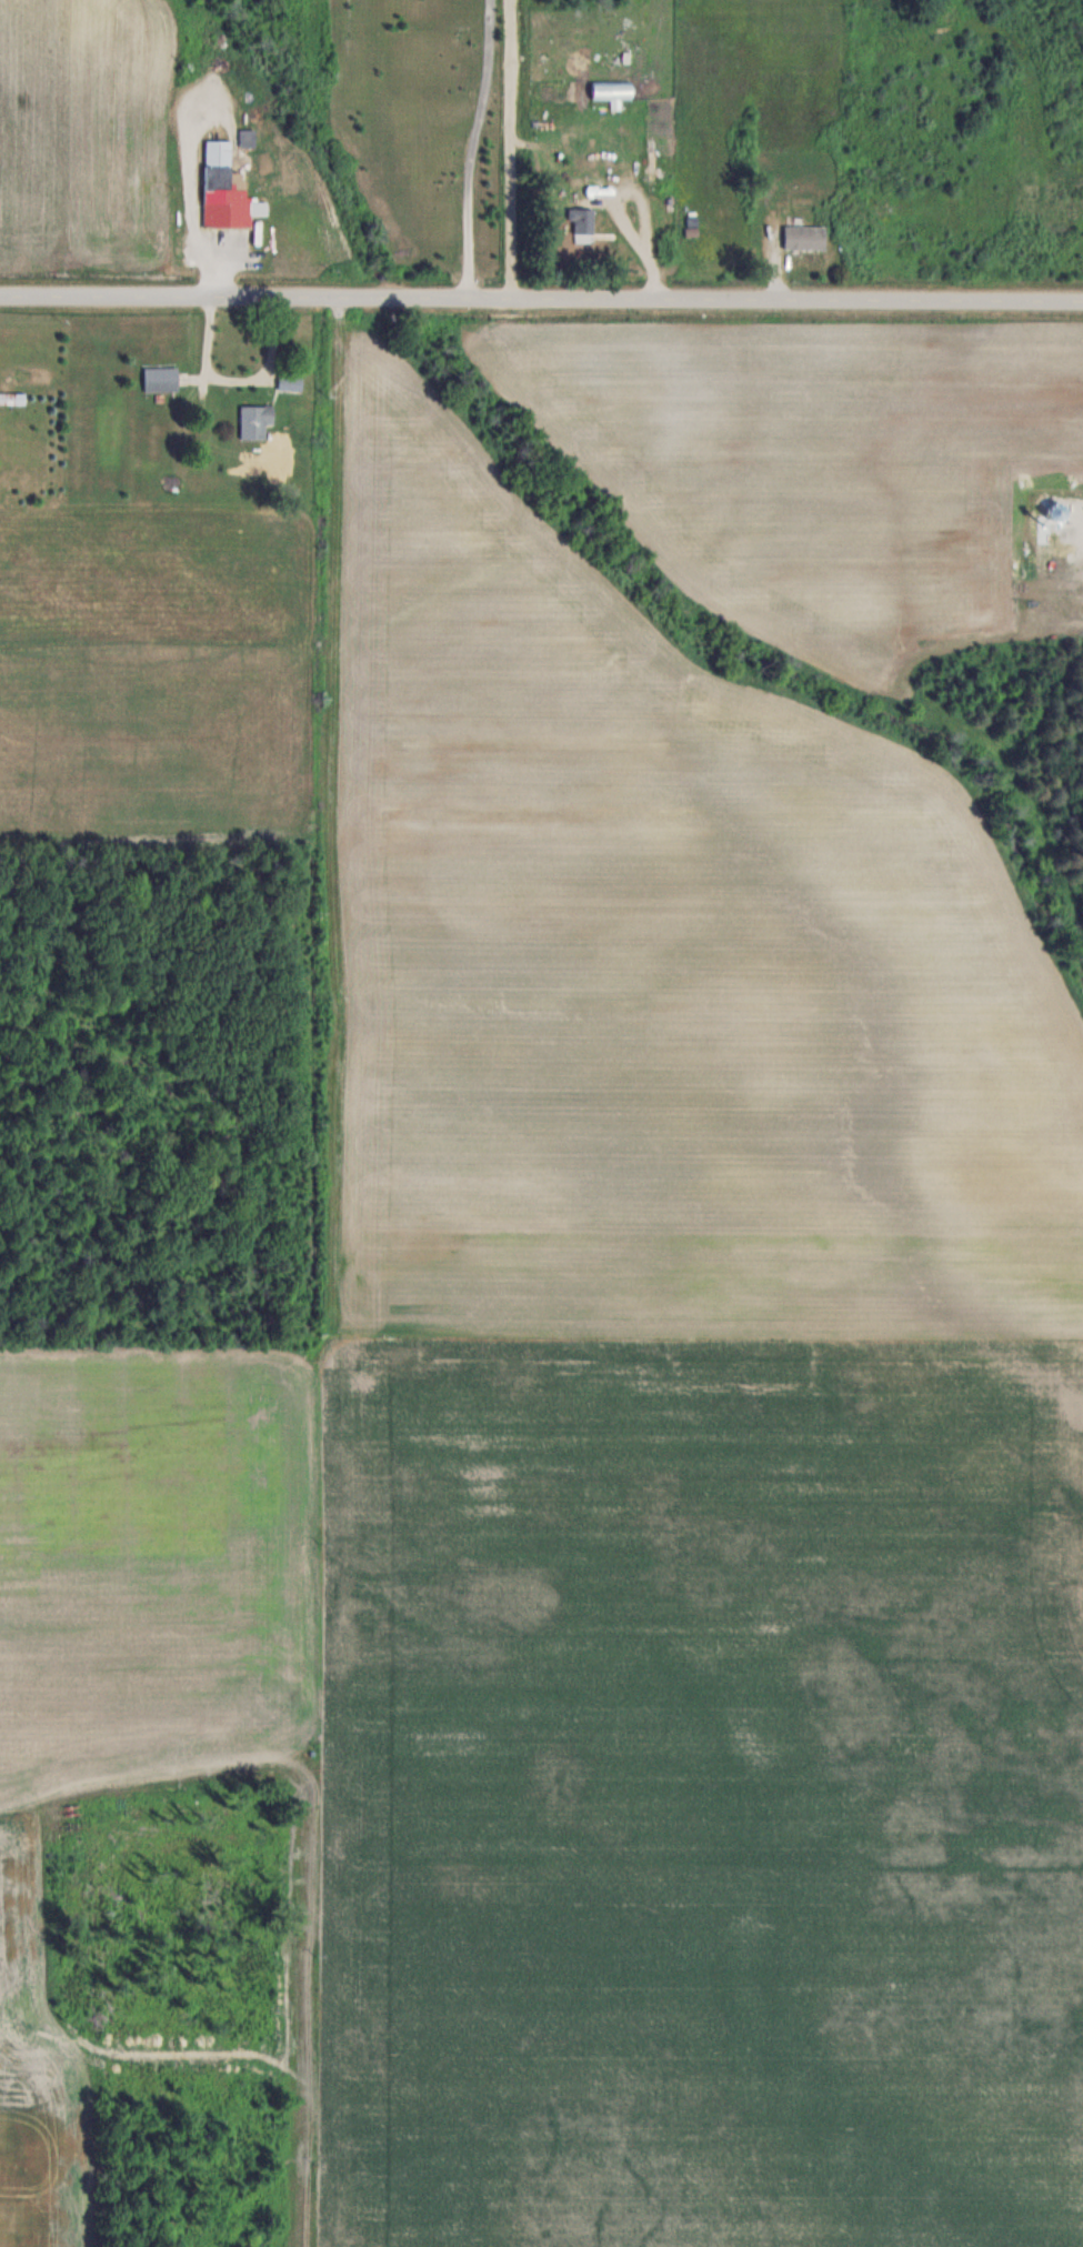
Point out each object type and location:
building: (612, 91)
building: (225, 190)
road: (609, 200)
building: (581, 221)
building: (804, 238)
road: (541, 300)
building: (161, 379)
building: (12, 399)
building: (255, 422)

